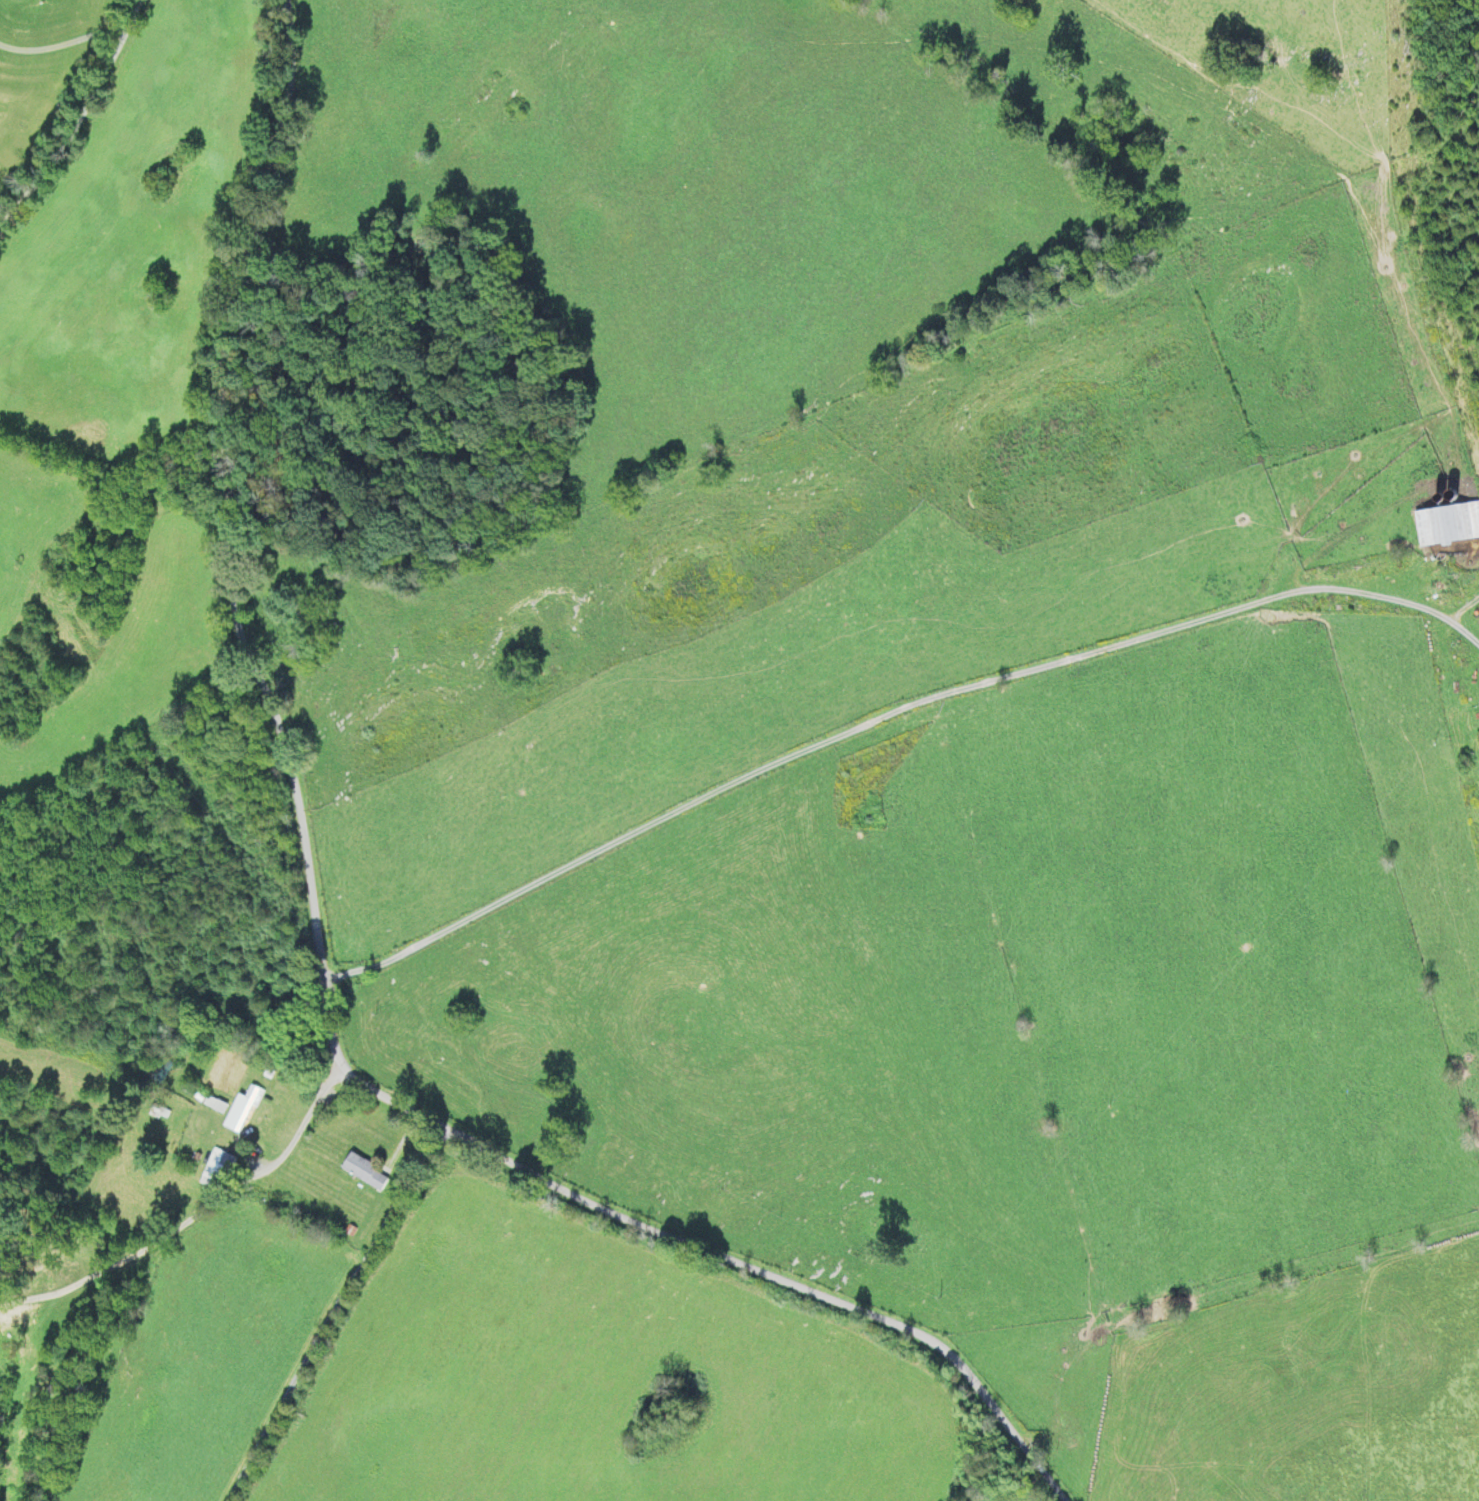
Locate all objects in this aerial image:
road: (73, 118)
road: (231, 490)
building: (1447, 524)
road: (882, 696)
building: (160, 1071)
building: (214, 1105)
building: (244, 1108)
building: (159, 1112)
building: (216, 1170)
building: (363, 1172)
road: (197, 1220)
road: (684, 1239)
road: (341, 1313)

